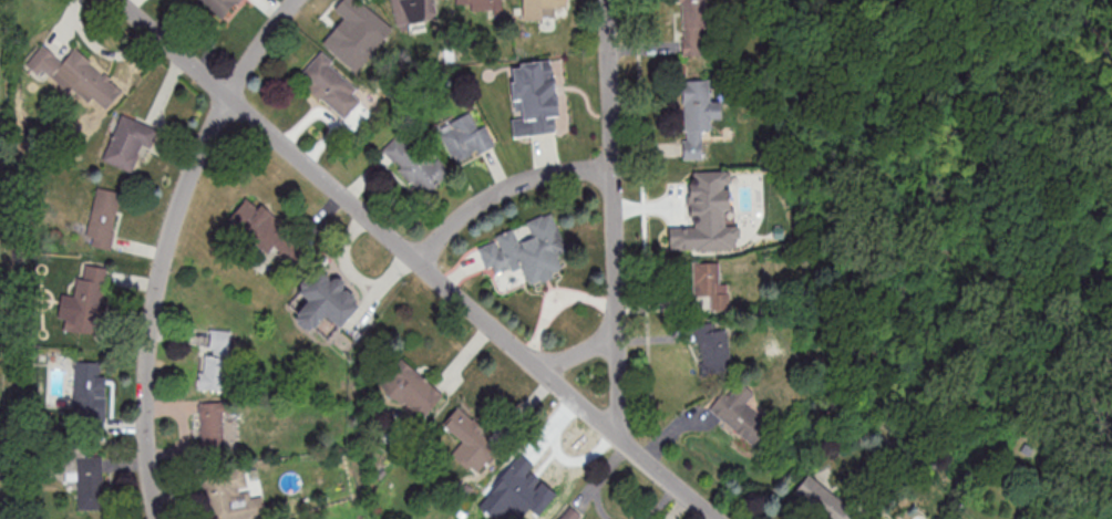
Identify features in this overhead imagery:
building: (477, 6)
building: (219, 7)
building: (540, 9)
building: (411, 10)
building: (692, 28)
building: (356, 33)
building: (76, 76)
building: (329, 85)
building: (533, 97)
building: (697, 115)
building: (464, 138)
building: (126, 143)
building: (412, 163)
road: (498, 190)
building: (706, 205)
park: (962, 211)
building: (102, 218)
road: (612, 227)
building: (262, 228)
road: (164, 243)
building: (526, 252)
road: (411, 260)
building: (709, 284)
building: (89, 298)
park: (9, 301)
building: (321, 301)
building: (713, 351)
building: (214, 363)
building: (410, 388)
building: (87, 392)
building: (740, 413)
building: (210, 425)
building: (467, 440)
building: (85, 479)
building: (522, 488)
building: (230, 496)
building: (824, 500)
building: (569, 515)

